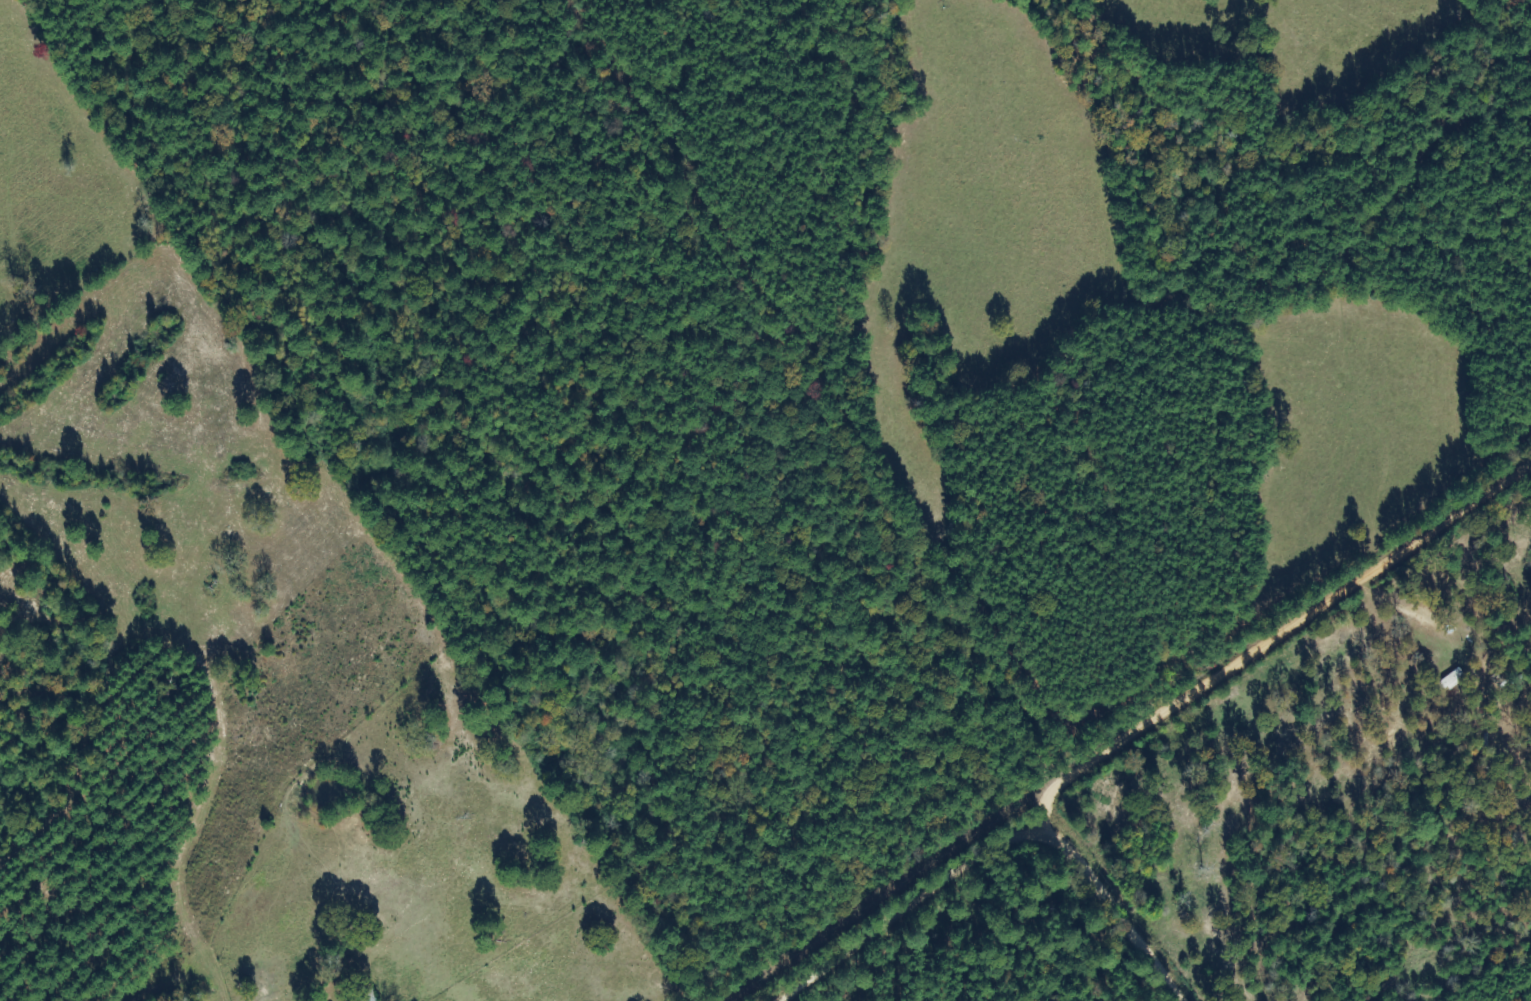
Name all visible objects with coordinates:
road: (1253, 657)
road: (974, 839)

